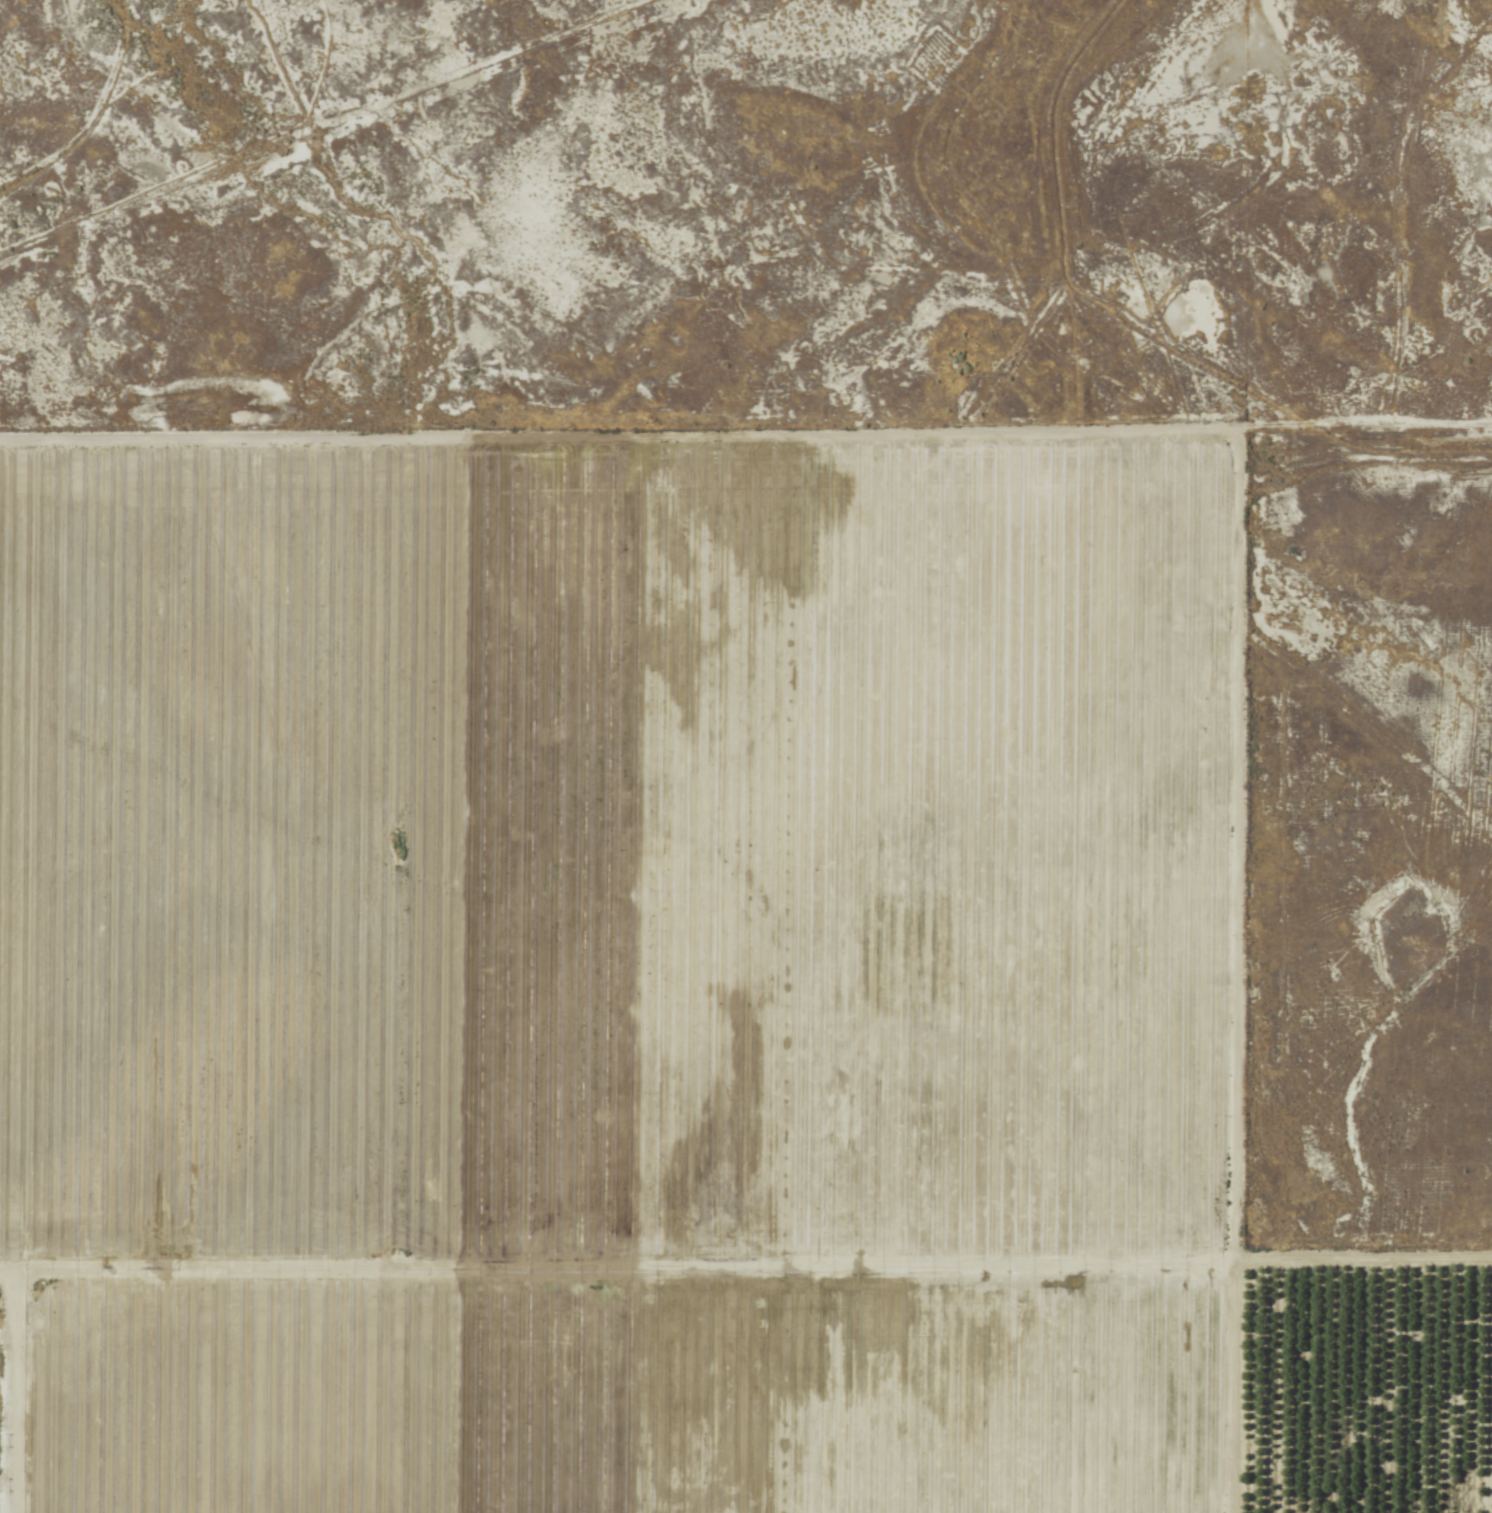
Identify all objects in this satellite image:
road: (1042, 1162)

